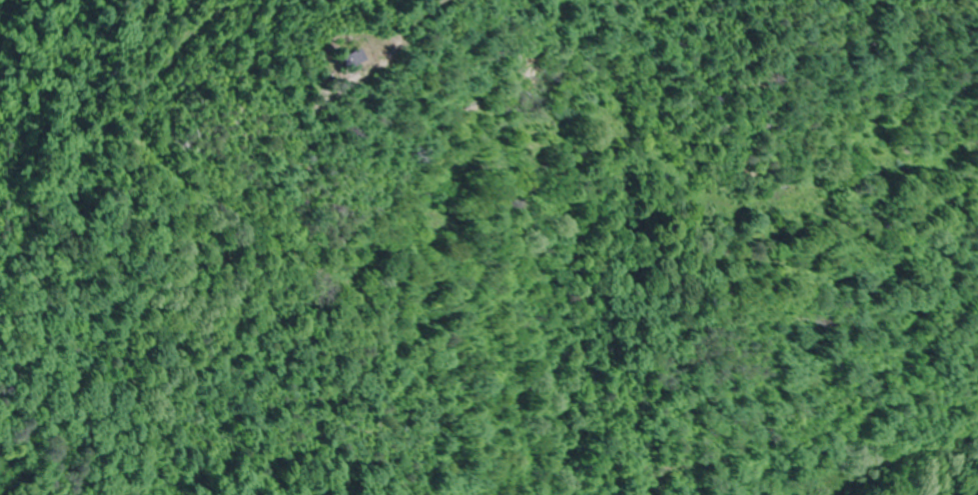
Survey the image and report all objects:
road: (824, 244)

